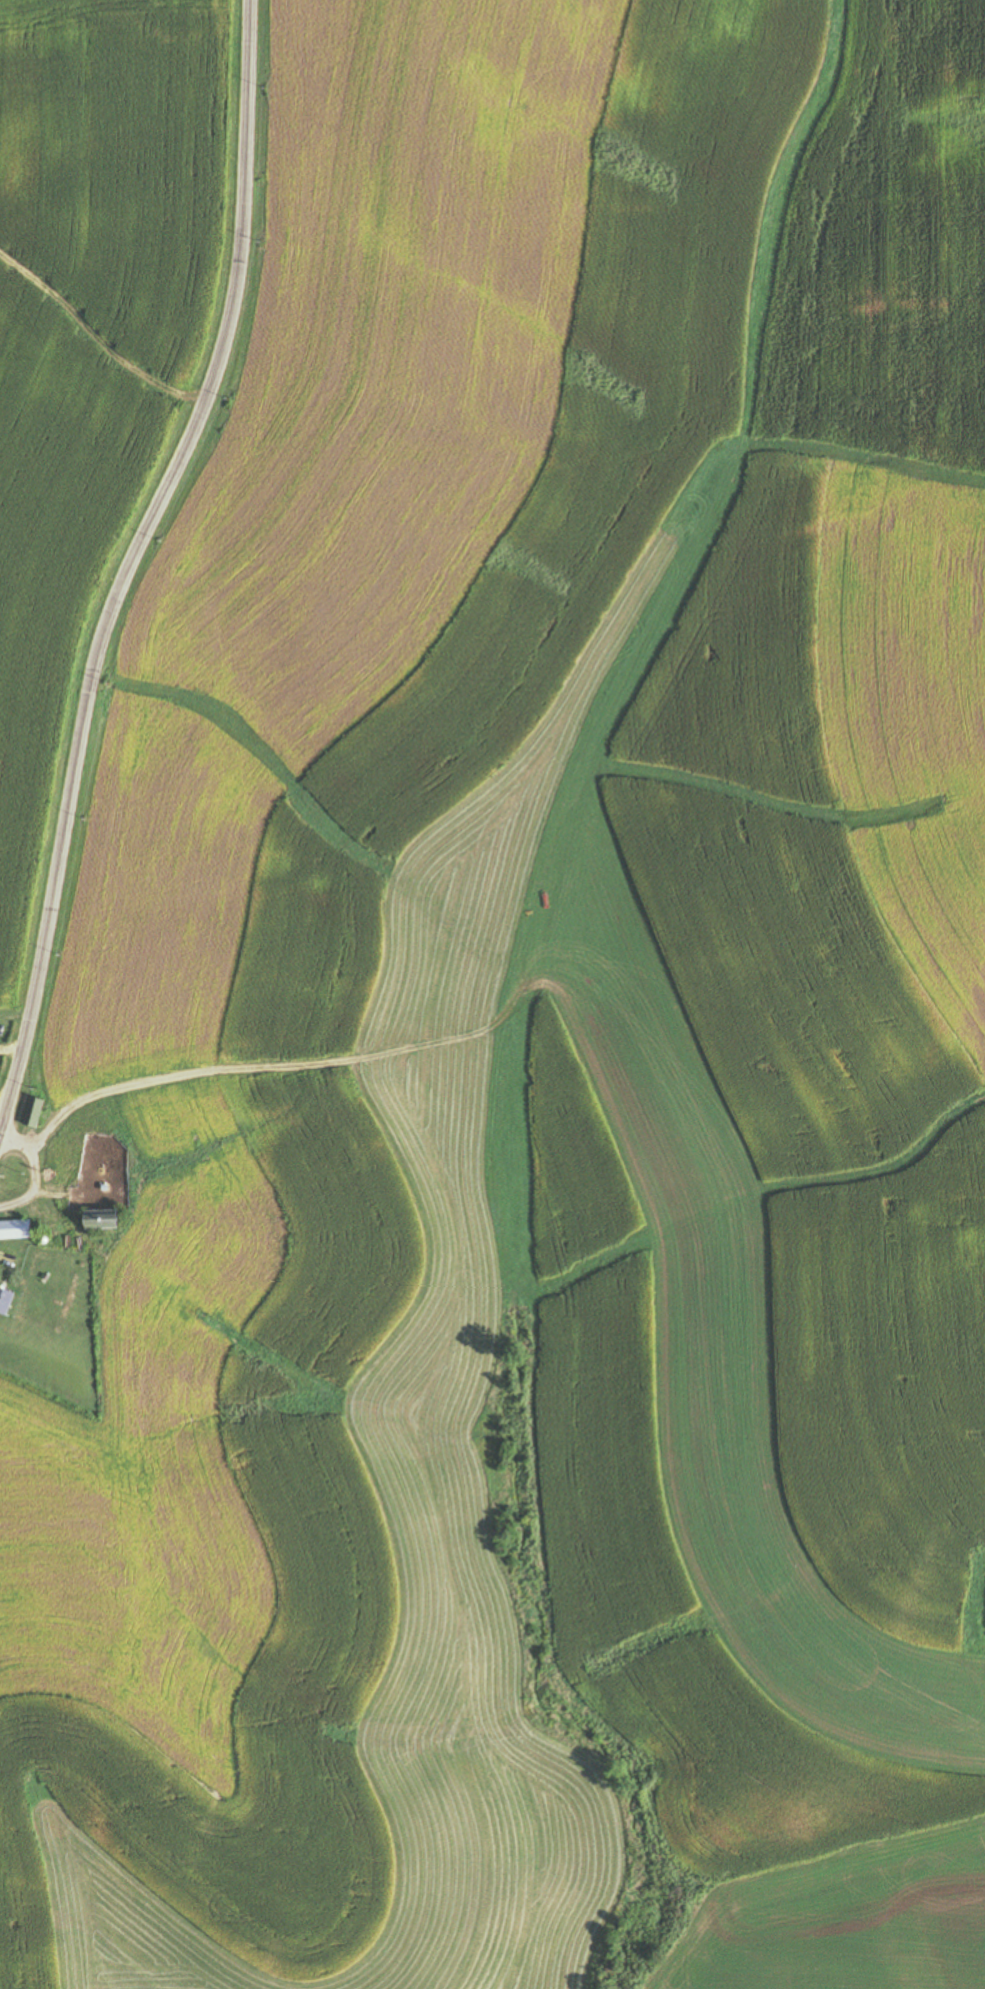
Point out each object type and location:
road: (132, 564)

